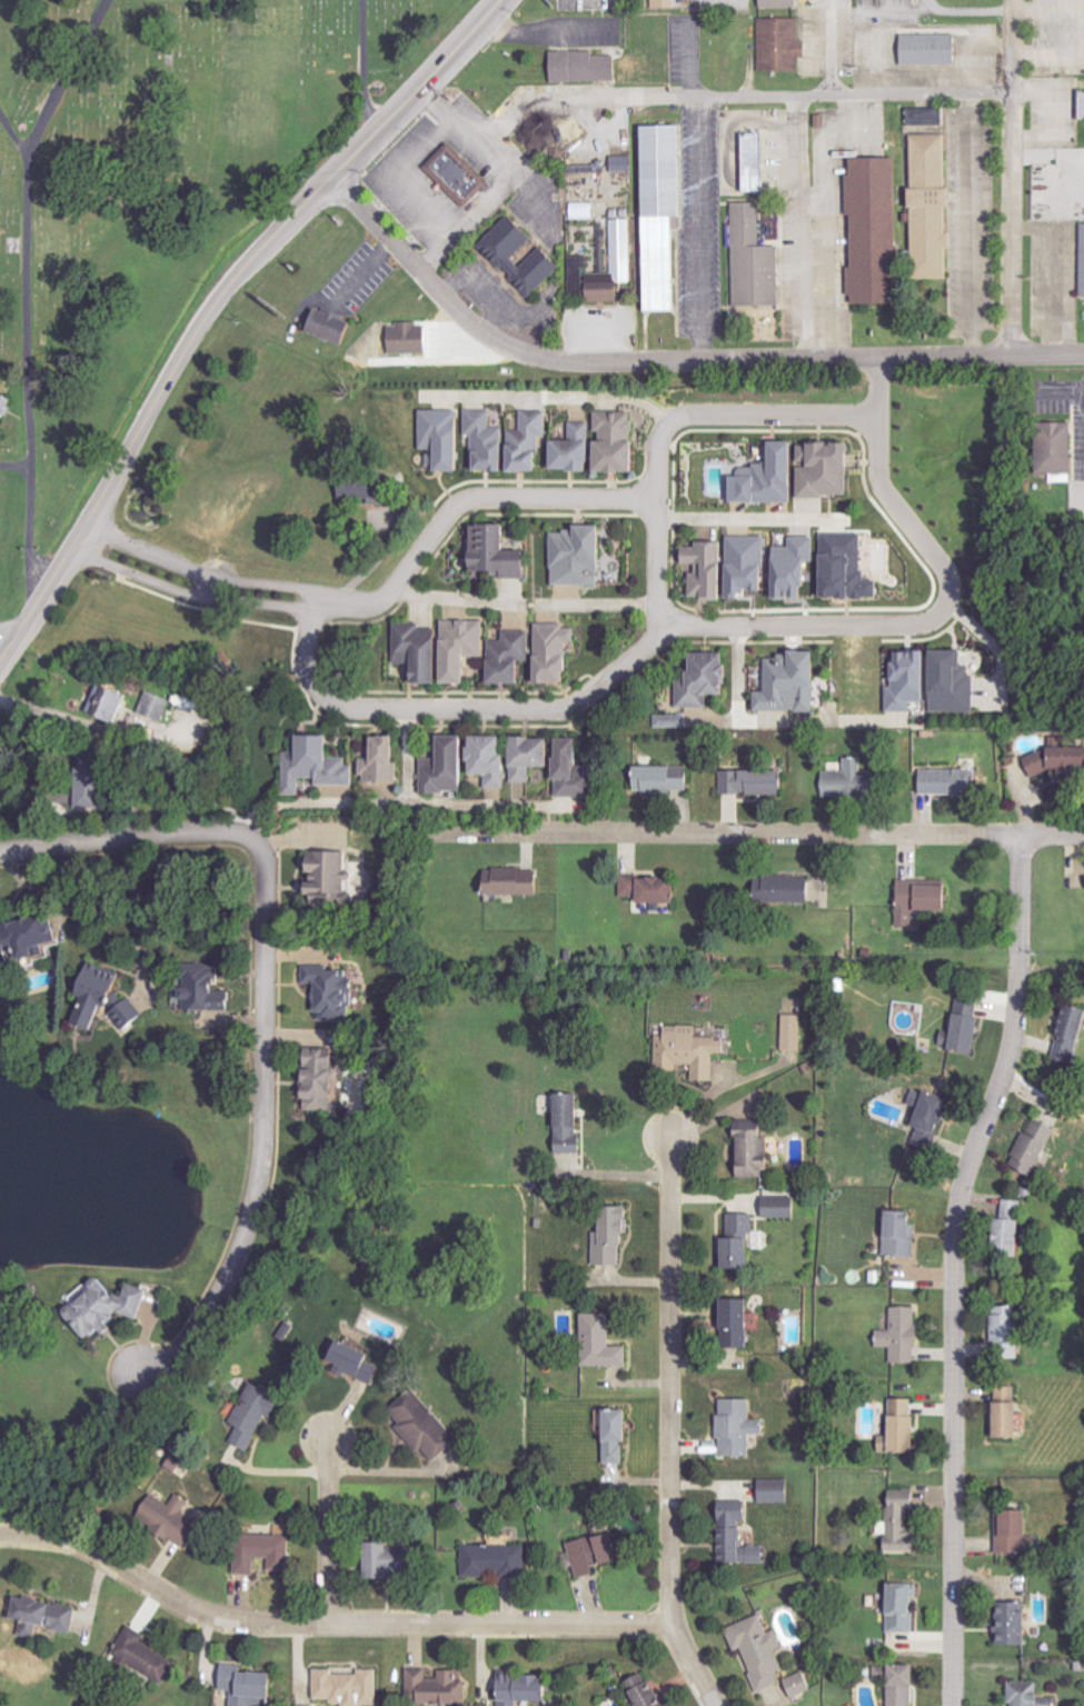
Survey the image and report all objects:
building: (667, 3)
building: (783, 3)
building: (784, 46)
road: (834, 47)
building: (933, 49)
road: (360, 66)
building: (586, 67)
road: (414, 89)
road: (831, 94)
road: (518, 112)
building: (928, 118)
road: (11, 131)
building: (757, 162)
building: (624, 164)
building: (461, 176)
road: (1013, 179)
park: (151, 201)
building: (935, 208)
road: (480, 209)
building: (585, 211)
building: (667, 213)
road: (697, 229)
building: (878, 231)
building: (508, 251)
road: (247, 257)
building: (756, 261)
building: (617, 262)
road: (24, 288)
building: (335, 326)
building: (411, 339)
road: (669, 363)
road: (878, 390)
building: (7, 408)
building: (446, 439)
road: (128, 441)
building: (510, 442)
building: (604, 446)
road: (878, 448)
building: (1060, 449)
building: (800, 475)
building: (370, 489)
road: (730, 520)
building: (504, 553)
building: (581, 558)
road: (654, 562)
building: (752, 566)
building: (710, 569)
building: (800, 569)
building: (851, 569)
road: (38, 595)
road: (524, 603)
road: (9, 628)
building: (445, 651)
building: (558, 654)
building: (515, 658)
building: (709, 681)
building: (913, 682)
building: (793, 684)
building: (956, 684)
building: (118, 704)
building: (160, 705)
road: (43, 711)
building: (675, 722)
building: (535, 755)
building: (387, 759)
building: (495, 759)
building: (1053, 762)
building: (321, 764)
building: (450, 766)
building: (578, 769)
building: (666, 779)
building: (855, 780)
building: (954, 780)
building: (756, 781)
building: (95, 782)
road: (26, 787)
road: (752, 835)
building: (332, 876)
building: (515, 881)
building: (655, 888)
building: (793, 889)
building: (925, 899)
road: (135, 915)
building: (30, 936)
building: (205, 992)
building: (336, 992)
building: (99, 995)
road: (265, 1005)
building: (130, 1014)
building: (969, 1024)
building: (795, 1031)
building: (1073, 1036)
building: (692, 1050)
building: (324, 1079)
building: (932, 1117)
building: (573, 1123)
building: (1040, 1145)
building: (756, 1151)
building: (784, 1207)
building: (1017, 1225)
building: (904, 1234)
building: (616, 1236)
building: (743, 1240)
road: (956, 1266)
building: (109, 1308)
building: (740, 1323)
building: (1012, 1326)
building: (904, 1335)
building: (605, 1343)
building: (360, 1363)
road: (672, 1380)
building: (1014, 1413)
building: (257, 1414)
building: (426, 1425)
building: (740, 1427)
building: (904, 1428)
building: (619, 1435)
building: (177, 1463)
road: (386, 1473)
building: (779, 1491)
building: (172, 1518)
building: (903, 1523)
road: (327, 1529)
building: (1017, 1530)
building: (740, 1537)
building: (267, 1553)
building: (597, 1554)
building: (396, 1559)
building: (497, 1562)
building: (906, 1608)
building: (54, 1615)
road: (326, 1622)
building: (1015, 1624)
building: (762, 1650)
building: (146, 1655)
road: (695, 1665)
building: (251, 1685)
building: (800, 1685)
building: (906, 1685)
building: (349, 1687)
building: (438, 1687)
building: (527, 1689)
building: (646, 1692)
building: (1031, 1695)

